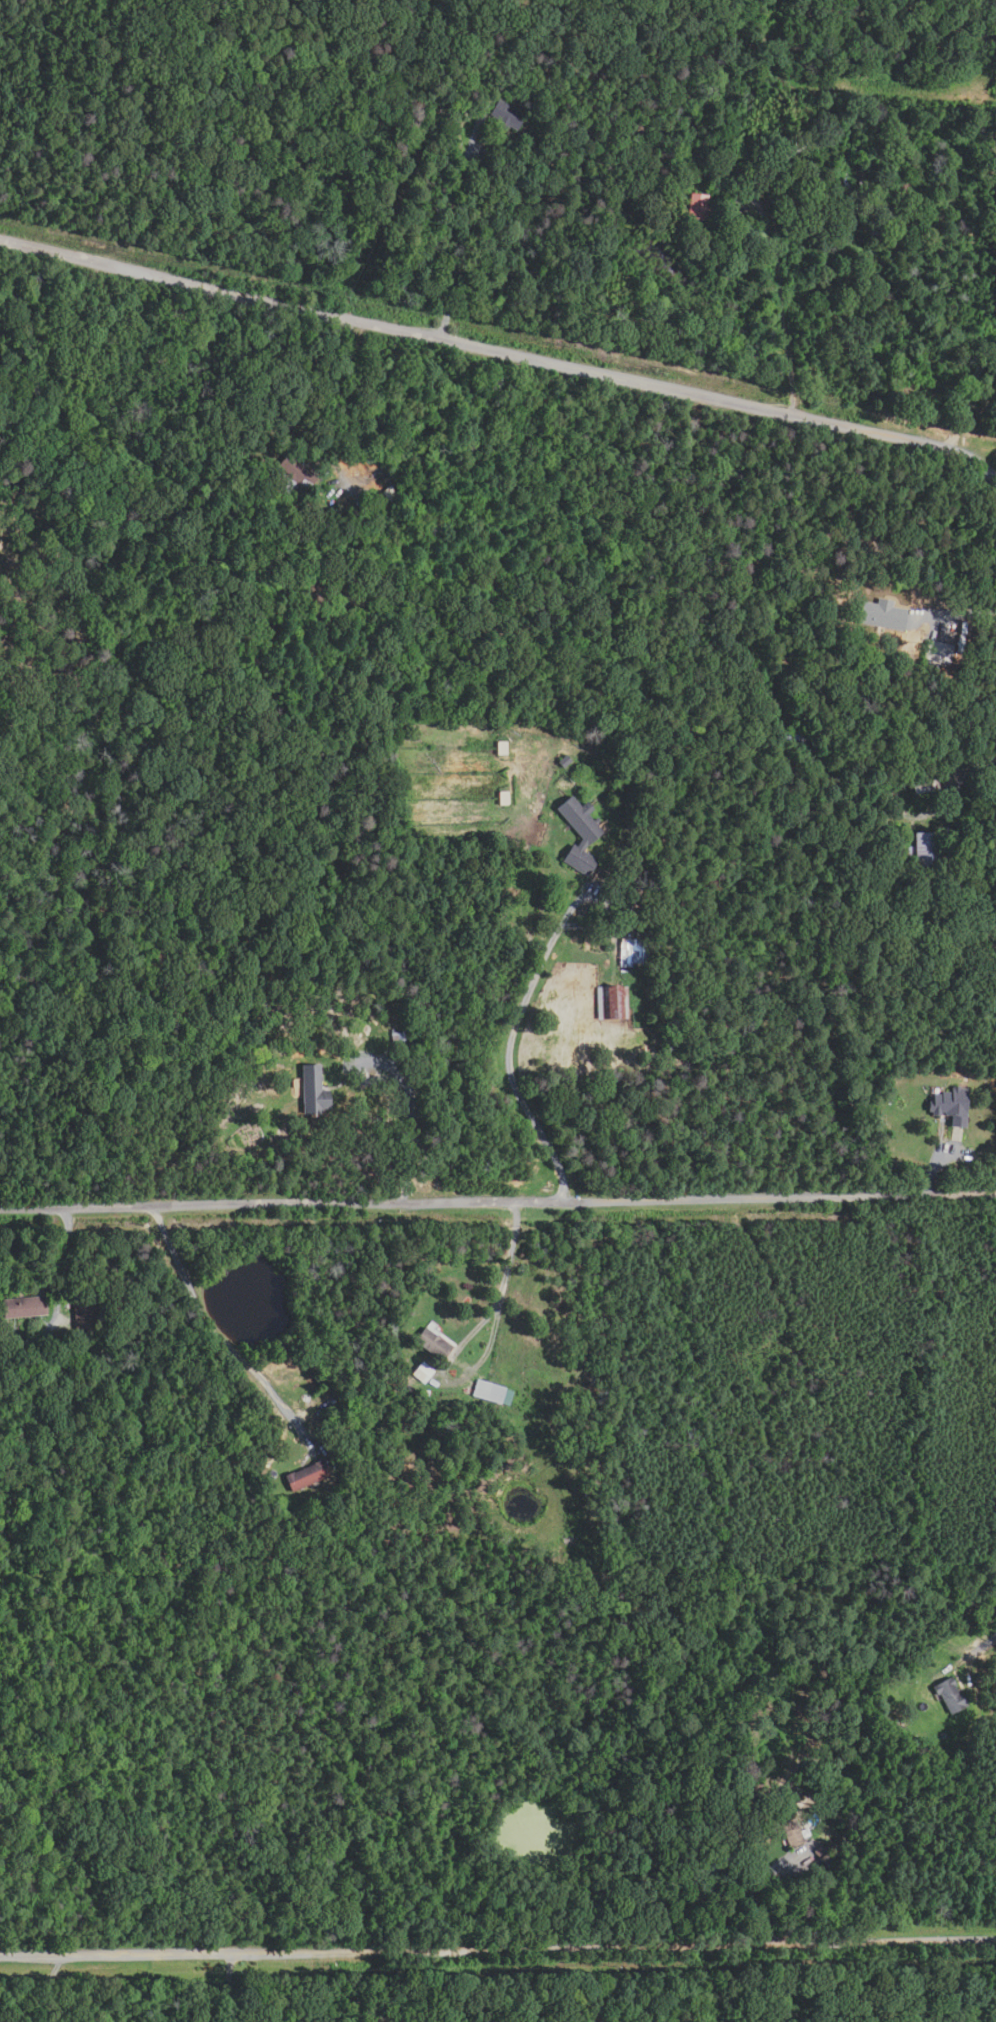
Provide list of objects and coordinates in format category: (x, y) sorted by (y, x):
building: (509, 80)
building: (497, 87)
building: (522, 94)
building: (507, 115)
building: (795, 152)
building: (805, 179)
building: (910, 190)
building: (699, 207)
building: (863, 208)
building: (788, 228)
road: (449, 234)
road: (783, 306)
road: (502, 353)
road: (352, 390)
road: (968, 396)
building: (293, 474)
building: (390, 494)
building: (380, 499)
building: (883, 615)
road: (956, 615)
building: (939, 652)
building: (797, 737)
building: (502, 748)
building: (564, 761)
road: (966, 769)
building: (925, 787)
building: (504, 798)
building: (880, 824)
building: (580, 835)
building: (927, 850)
building: (635, 952)
building: (613, 1003)
building: (398, 1036)
road: (508, 1057)
building: (313, 1090)
building: (952, 1106)
road: (412, 1135)
road: (498, 1199)
road: (64, 1253)
road: (504, 1277)
building: (24, 1308)
building: (86, 1314)
road: (217, 1334)
building: (434, 1344)
building: (423, 1373)
building: (493, 1393)
building: (427, 1394)
building: (348, 1438)
building: (306, 1476)
road: (978, 1649)
building: (951, 1694)
building: (922, 1745)
building: (759, 1790)
building: (792, 1833)
building: (826, 1856)
building: (717, 1866)
building: (809, 1868)
road: (758, 1886)
road: (498, 1953)
road: (228, 1988)

